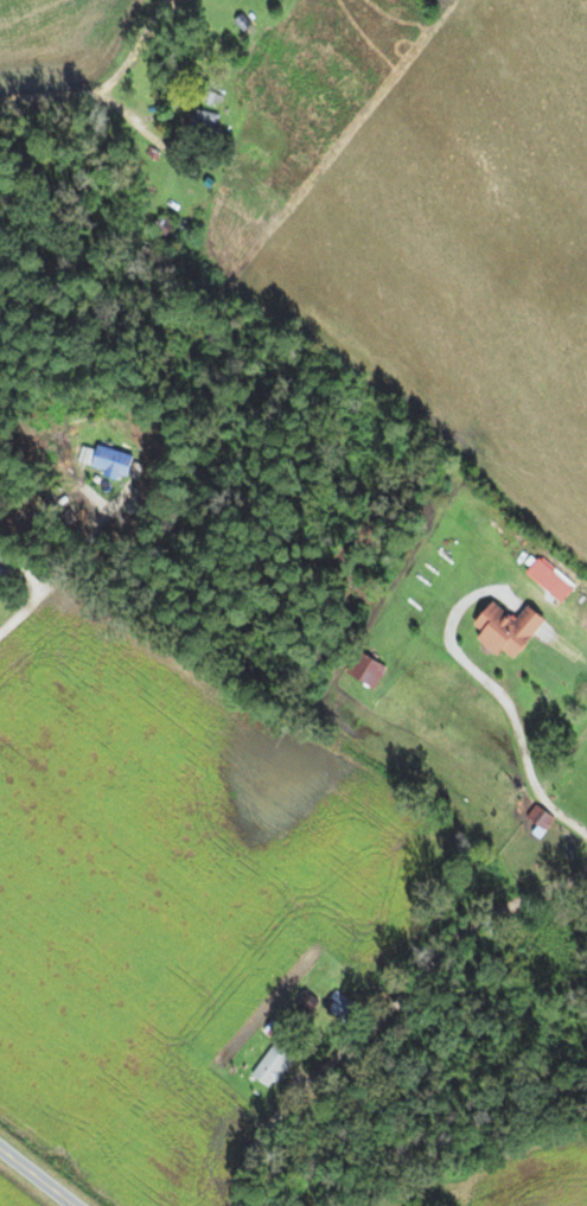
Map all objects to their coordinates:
road: (130, 116)
building: (208, 119)
building: (120, 464)
building: (5, 578)
building: (515, 628)
building: (371, 668)
road: (17, 725)
building: (343, 1007)
building: (276, 1066)
road: (293, 1098)
road: (37, 1174)

